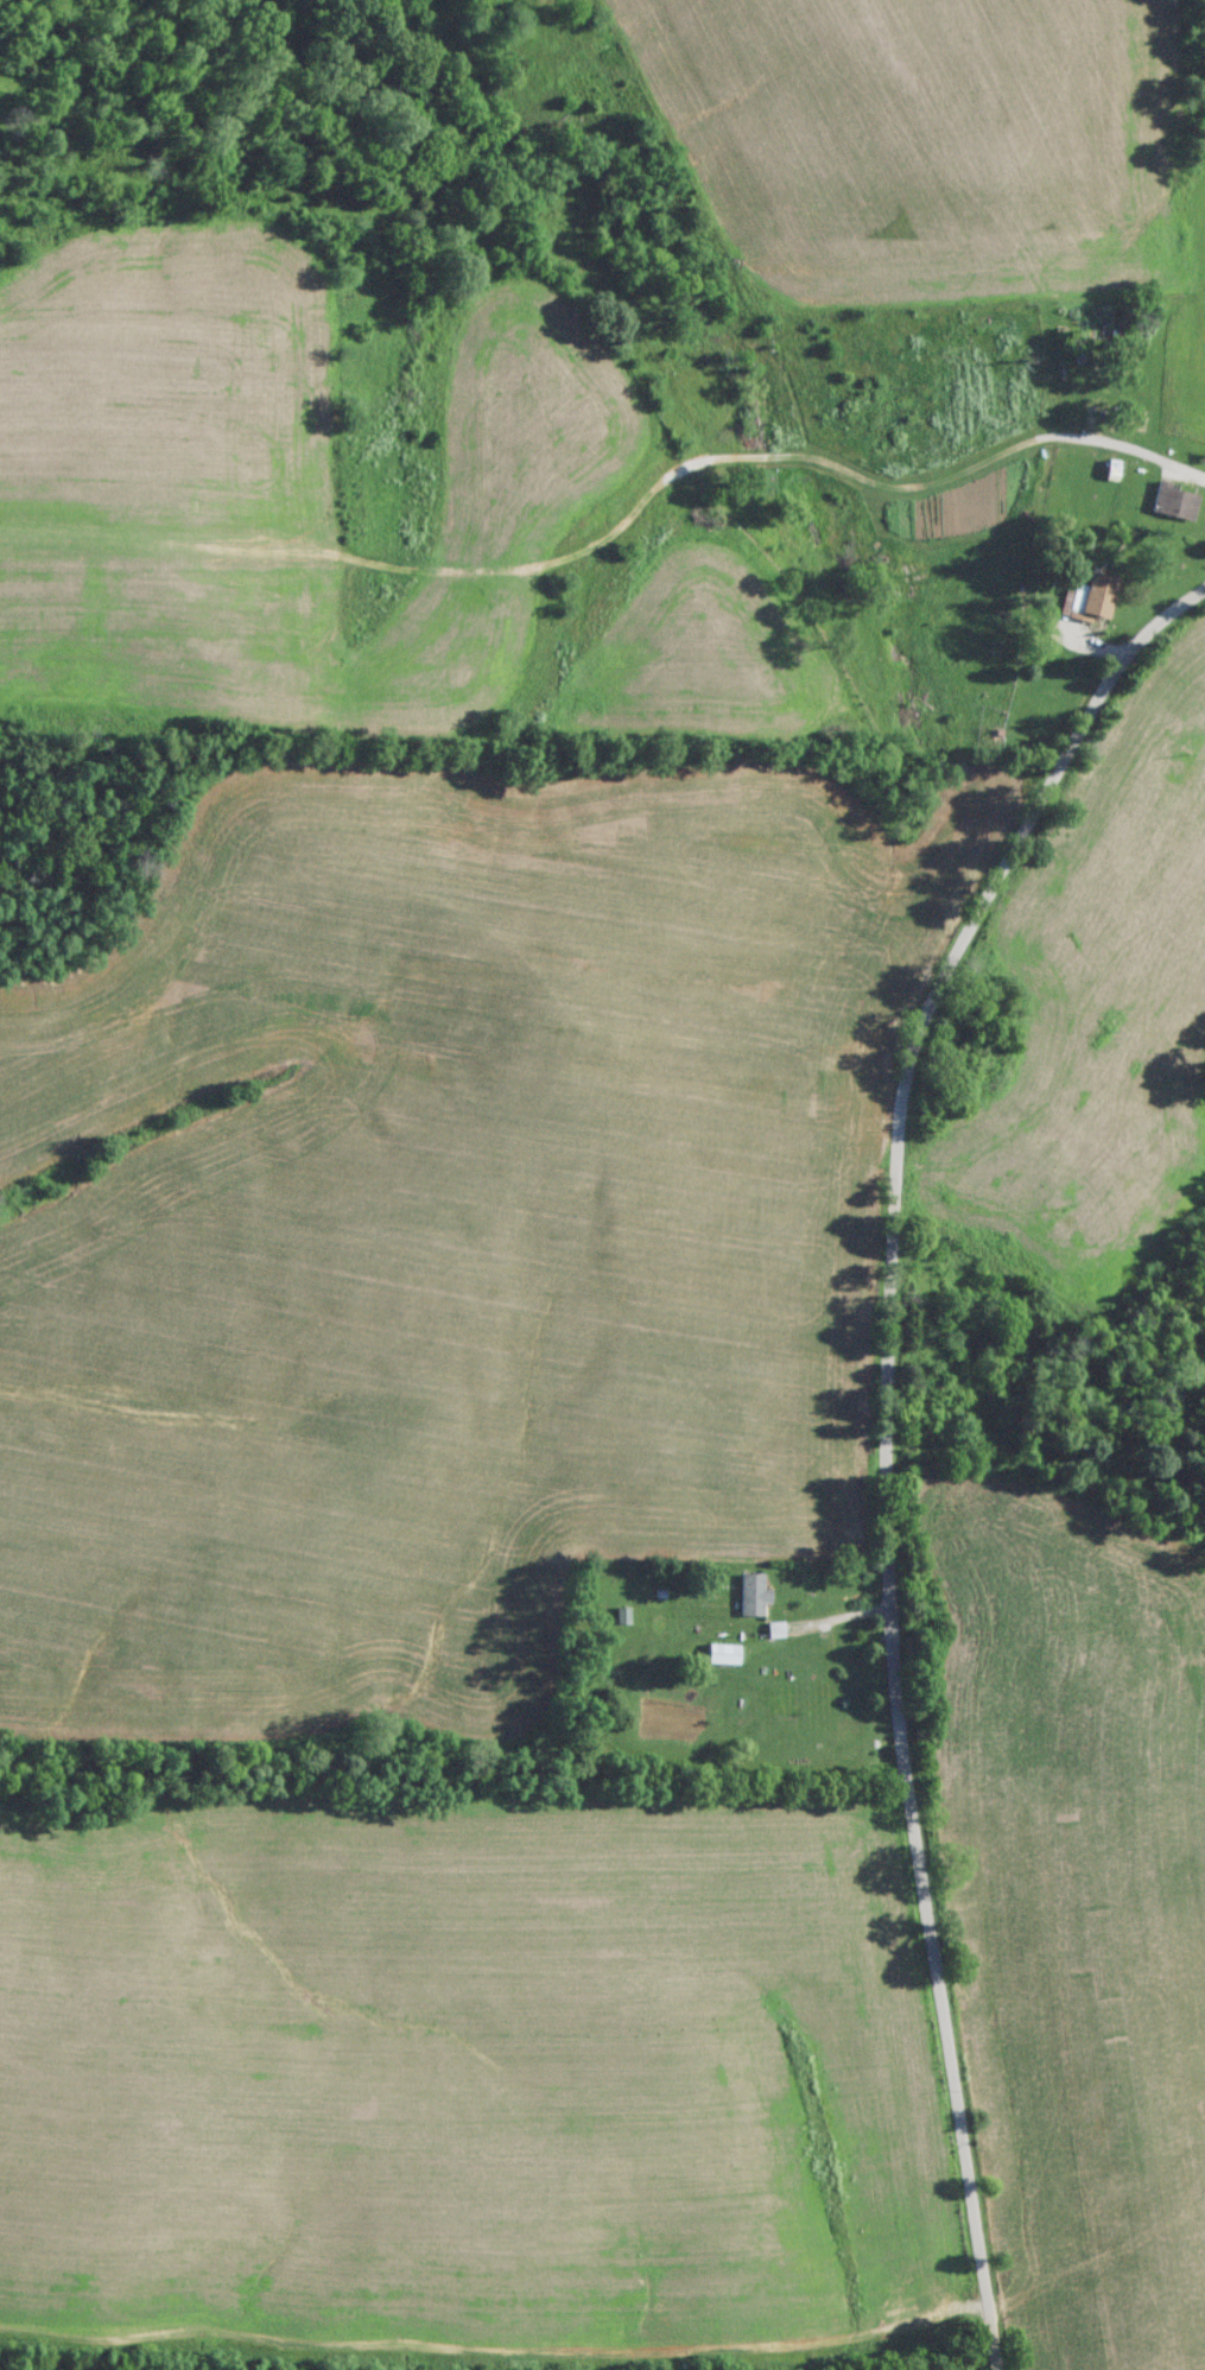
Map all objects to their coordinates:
building: (1174, 501)
building: (1093, 595)
road: (908, 1476)
building: (753, 1593)
building: (722, 1653)
road: (1074, 1801)

